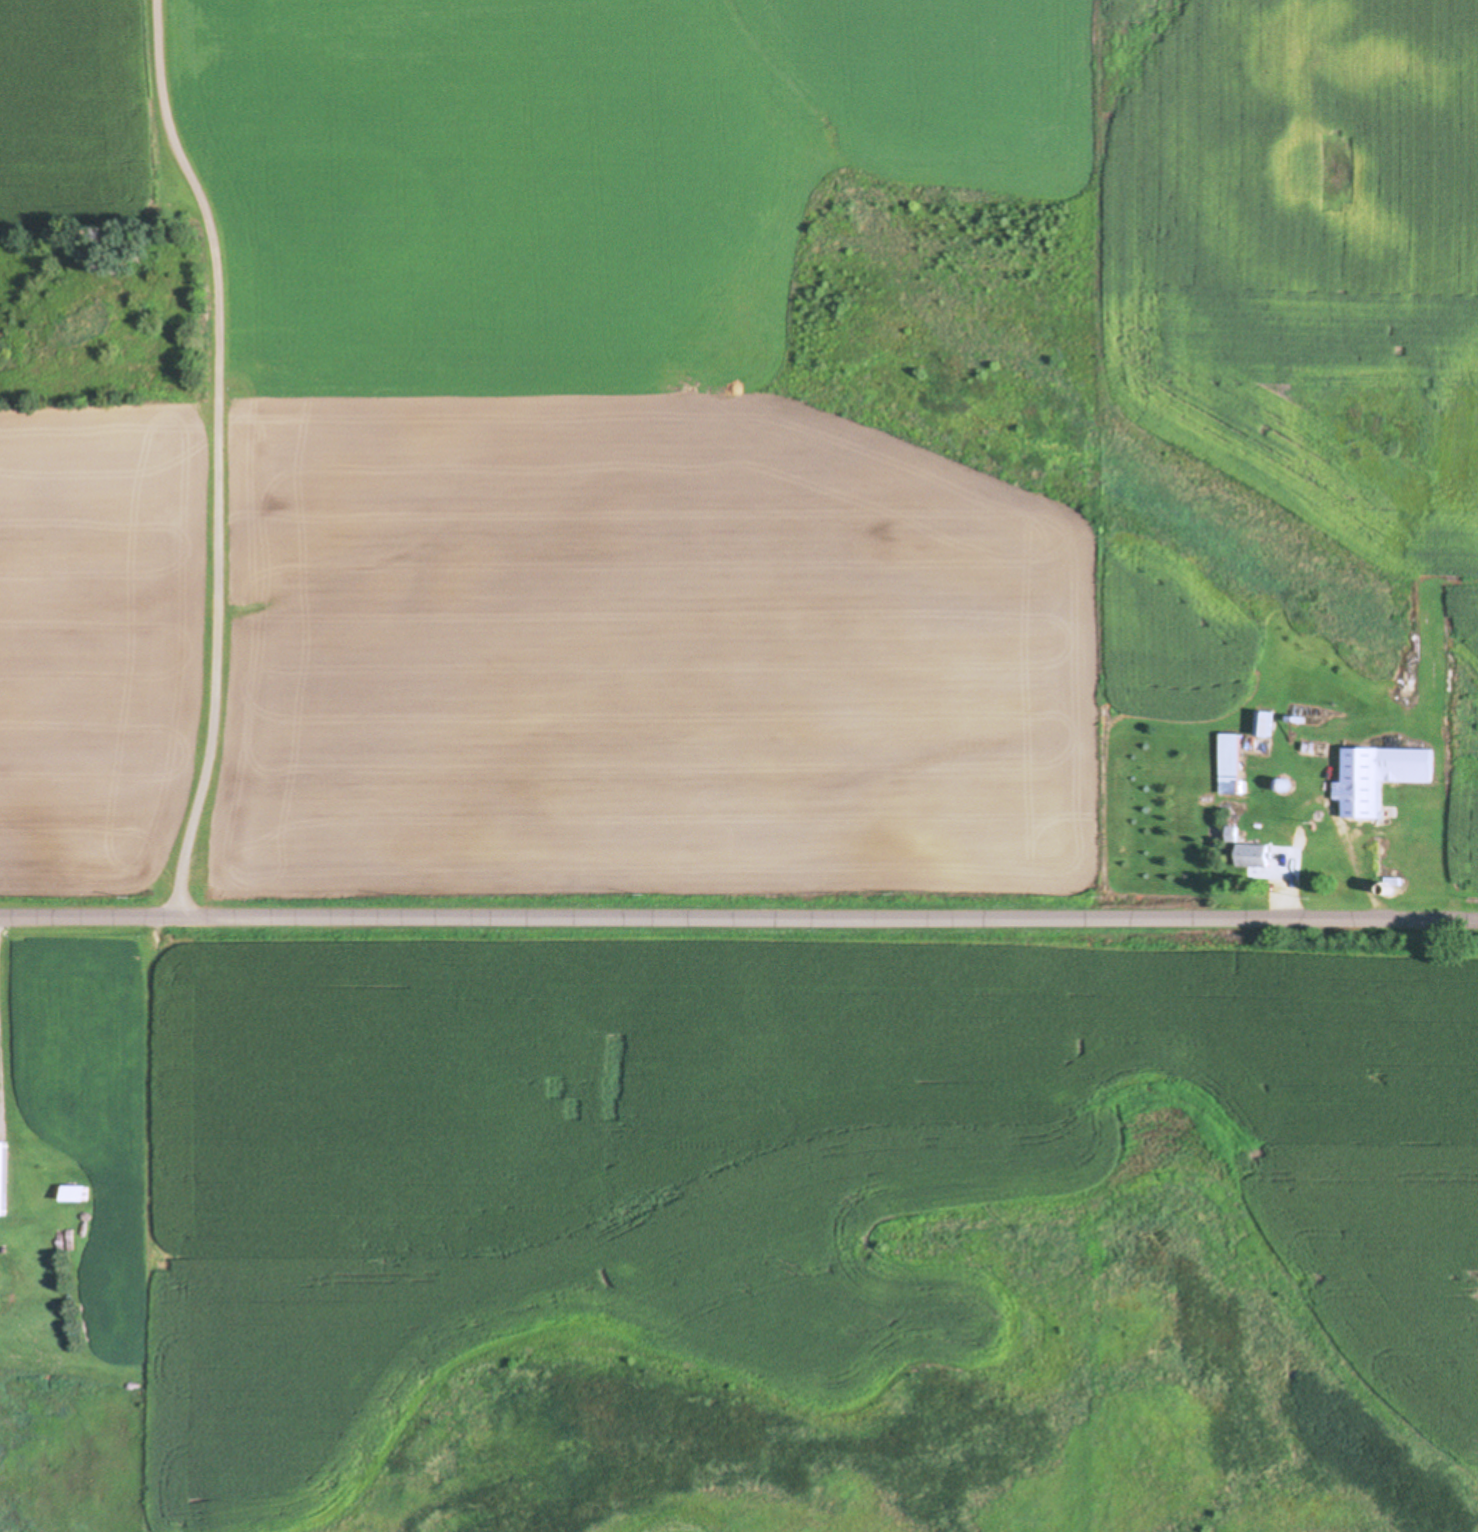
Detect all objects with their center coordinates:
crop: (693, 428)
road: (214, 458)
building: (1264, 724)
building: (1230, 764)
building: (1376, 777)
building: (1251, 856)
road: (739, 919)
crop: (760, 1164)
building: (3, 1179)
building: (73, 1193)
crop: (674, 1527)

